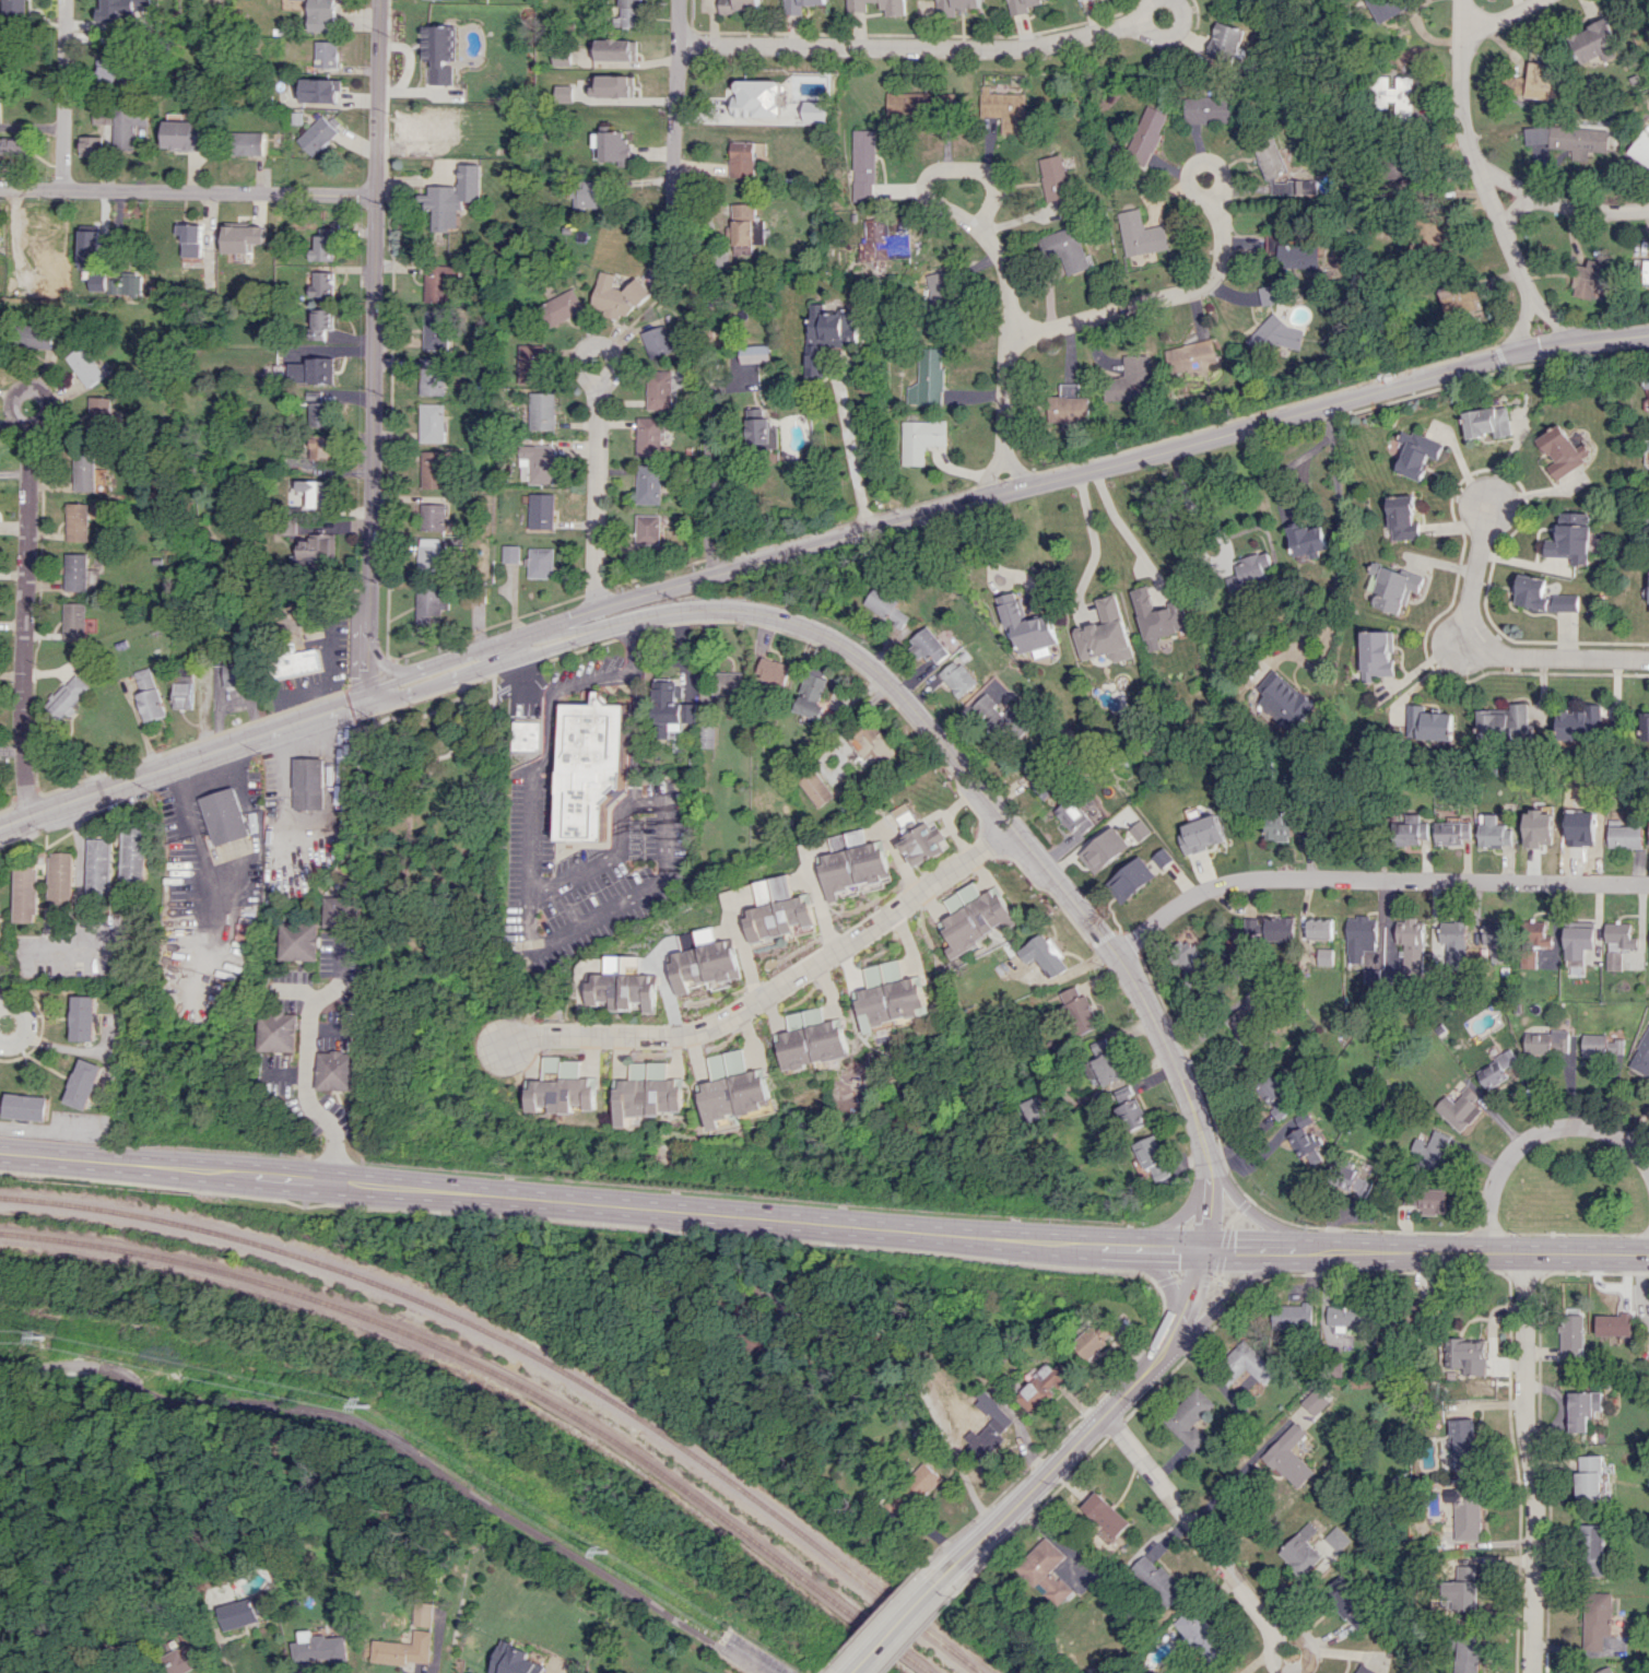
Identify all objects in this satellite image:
building: (739, 4)
building: (799, 4)
building: (892, 4)
building: (951, 5)
building: (1015, 5)
building: (17, 8)
building: (1386, 8)
building: (120, 10)
road: (1476, 11)
building: (628, 12)
building: (317, 13)
road: (1496, 19)
road: (1159, 37)
building: (1224, 42)
building: (1595, 43)
road: (909, 44)
building: (616, 49)
building: (327, 54)
building: (111, 71)
building: (436, 75)
building: (1535, 81)
building: (615, 85)
building: (326, 90)
building: (568, 92)
road: (69, 95)
building: (1394, 95)
building: (756, 98)
building: (907, 103)
road: (674, 106)
building: (1208, 109)
building: (813, 110)
building: (1003, 110)
building: (103, 117)
building: (129, 122)
building: (434, 131)
building: (1143, 133)
building: (185, 134)
building: (318, 134)
building: (1579, 140)
building: (248, 143)
building: (13, 145)
building: (93, 145)
building: (611, 146)
building: (1641, 148)
building: (741, 158)
building: (860, 163)
building: (1403, 166)
building: (1279, 168)
road: (1220, 176)
road: (1482, 179)
building: (1053, 180)
road: (1507, 181)
road: (187, 191)
building: (587, 193)
building: (452, 196)
road: (1571, 205)
building: (745, 228)
building: (1139, 234)
building: (245, 237)
building: (1430, 237)
building: (193, 238)
building: (882, 241)
building: (321, 243)
road: (992, 246)
building: (1062, 249)
building: (1293, 254)
building: (93, 260)
building: (1642, 269)
building: (57, 279)
building: (1593, 279)
building: (437, 280)
building: (320, 281)
building: (128, 284)
building: (617, 293)
building: (1271, 294)
road: (374, 296)
building: (1462, 298)
road: (1150, 301)
building: (562, 305)
building: (935, 305)
building: (319, 321)
road: (1524, 323)
building: (435, 328)
building: (33, 334)
building: (826, 334)
building: (1273, 335)
building: (657, 339)
building: (755, 354)
building: (1189, 355)
building: (531, 362)
building: (85, 365)
building: (309, 368)
building: (431, 374)
building: (927, 377)
building: (1647, 379)
building: (1127, 380)
building: (659, 387)
building: (311, 393)
building: (1068, 405)
building: (542, 409)
building: (319, 412)
building: (101, 415)
building: (1491, 420)
building: (431, 421)
building: (650, 434)
building: (762, 435)
road: (594, 438)
building: (921, 438)
building: (319, 445)
building: (1565, 449)
road: (852, 450)
building: (1421, 451)
building: (539, 460)
road: (1286, 464)
building: (432, 467)
road: (992, 470)
road: (1074, 470)
building: (83, 471)
building: (649, 482)
building: (315, 491)
road: (707, 505)
building: (292, 509)
building: (541, 509)
building: (431, 516)
building: (1406, 517)
building: (75, 521)
building: (285, 525)
building: (647, 527)
road: (1123, 528)
building: (1573, 535)
building: (1307, 538)
road: (1336, 539)
building: (314, 549)
road: (990, 551)
building: (510, 553)
building: (427, 558)
building: (541, 562)
road: (25, 566)
building: (1248, 572)
building: (74, 573)
building: (1393, 585)
building: (478, 593)
building: (1545, 593)
building: (427, 603)
building: (1161, 603)
building: (887, 605)
building: (294, 615)
building: (73, 621)
building: (1026, 623)
building: (1105, 632)
road: (1493, 644)
building: (929, 645)
road: (367, 646)
road: (632, 646)
building: (1379, 652)
road: (1442, 656)
parking lot: (333, 661)
building: (292, 662)
road: (392, 667)
building: (772, 670)
building: (239, 671)
road: (439, 671)
building: (958, 676)
road: (517, 678)
building: (728, 681)
building: (181, 685)
parking lot: (521, 688)
building: (811, 692)
building: (150, 695)
building: (67, 696)
building: (1283, 698)
building: (668, 707)
building: (1002, 720)
building: (1506, 721)
building: (1581, 721)
building: (1428, 722)
building: (1647, 726)
road: (461, 727)
building: (528, 733)
road: (631, 735)
building: (706, 735)
building: (870, 742)
road: (947, 749)
road: (549, 756)
road: (182, 762)
building: (590, 766)
building: (1043, 780)
building: (310, 782)
building: (815, 787)
building: (1073, 814)
building: (224, 816)
building: (1279, 825)
building: (1411, 830)
building: (1452, 830)
building: (1493, 832)
building: (1579, 832)
building: (1201, 833)
building: (919, 836)
building: (1625, 836)
park: (436, 841)
building: (1103, 849)
building: (134, 856)
building: (1162, 857)
building: (852, 862)
building: (101, 867)
road: (81, 874)
building: (1132, 876)
building: (60, 879)
parking lot: (596, 879)
road: (1370, 880)
building: (24, 892)
building: (343, 906)
building: (778, 909)
building: (974, 917)
building: (1279, 928)
building: (1320, 928)
building: (1495, 939)
building: (298, 940)
building: (1451, 940)
road: (554, 941)
building: (1578, 941)
building: (1411, 944)
building: (1363, 947)
road: (70, 952)
building: (1043, 954)
building: (1324, 956)
building: (1188, 957)
building: (703, 959)
building: (625, 985)
road: (776, 989)
building: (890, 994)
building: (1079, 1010)
building: (83, 1016)
building: (1242, 1016)
road: (23, 1022)
road: (1215, 1022)
building: (279, 1030)
building: (813, 1038)
building: (1547, 1041)
building: (1601, 1046)
building: (1641, 1055)
building: (1105, 1060)
building: (1496, 1069)
building: (339, 1070)
building: (84, 1083)
building: (565, 1087)
building: (734, 1087)
building: (650, 1092)
road: (310, 1096)
building: (1275, 1096)
road: (109, 1099)
building: (25, 1106)
building: (1030, 1108)
building: (1129, 1108)
building: (1459, 1108)
road: (1533, 1134)
building: (1303, 1140)
building: (1429, 1148)
building: (1152, 1157)
building: (1354, 1181)
road: (539, 1199)
building: (1425, 1199)
road: (1208, 1203)
road: (1242, 1204)
road: (1256, 1214)
road: (1230, 1217)
road: (1276, 1217)
road: (1162, 1226)
road: (1141, 1246)
traffic signals: (1204, 1249)
road: (1222, 1249)
road: (1262, 1249)
road: (1484, 1252)
road: (1149, 1268)
road: (1292, 1272)
road: (1182, 1275)
road: (1215, 1276)
road: (1222, 1281)
road: (1240, 1283)
road: (1190, 1292)
road: (1234, 1292)
building: (1345, 1313)
building: (1294, 1316)
building: (1613, 1323)
building: (1570, 1334)
power tower: (40, 1339)
building: (1088, 1343)
railway: (535, 1346)
building: (1464, 1355)
building: (1249, 1364)
railway: (498, 1372)
road: (1142, 1375)
road: (920, 1382)
building: (1041, 1387)
building: (1315, 1401)
power tower: (372, 1406)
building: (1581, 1409)
road: (1079, 1415)
building: (1191, 1417)
road: (1116, 1427)
building: (987, 1429)
building: (1461, 1442)
road: (403, 1447)
building: (1288, 1456)
road: (1529, 1462)
building: (1588, 1478)
building: (918, 1486)
road: (1024, 1494)
park: (468, 1504)
building: (1465, 1512)
road: (1033, 1513)
building: (1105, 1513)
building: (1311, 1548)
building: (1591, 1550)
power tower: (604, 1551)
building: (1047, 1571)
road: (1229, 1576)
building: (1156, 1579)
building: (1464, 1587)
building: (1346, 1603)
building: (243, 1612)
building: (424, 1613)
road: (874, 1617)
building: (1595, 1618)
road: (895, 1625)
road: (919, 1633)
road: (219, 1635)
building: (1200, 1635)
building: (319, 1647)
building: (403, 1649)
building: (1468, 1653)
parking lot: (754, 1656)
building: (184, 1657)
building: (514, 1660)
building: (1364, 1669)
building: (1604, 1670)
road: (821, 1672)

